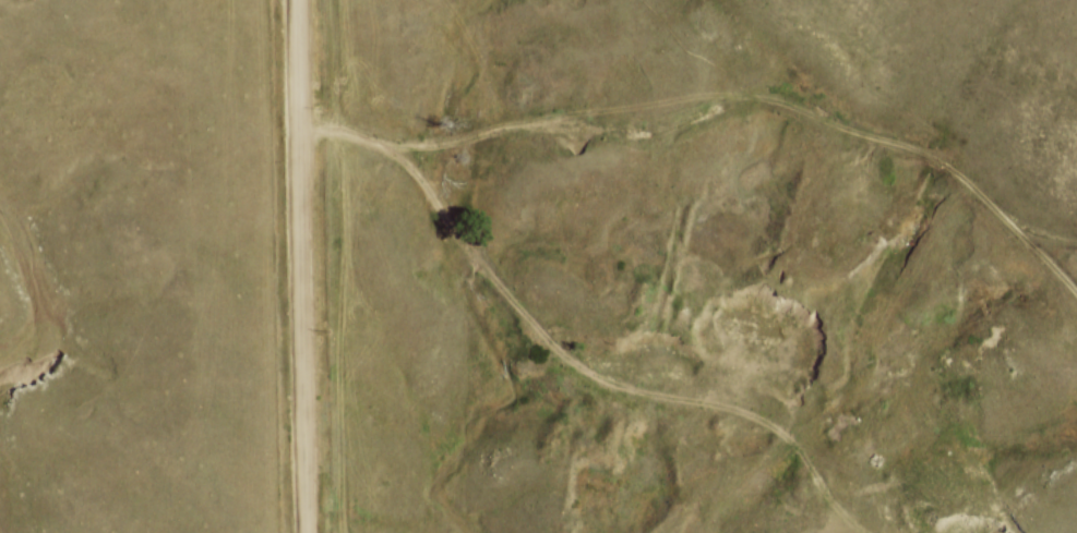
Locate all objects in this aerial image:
road: (297, 266)

